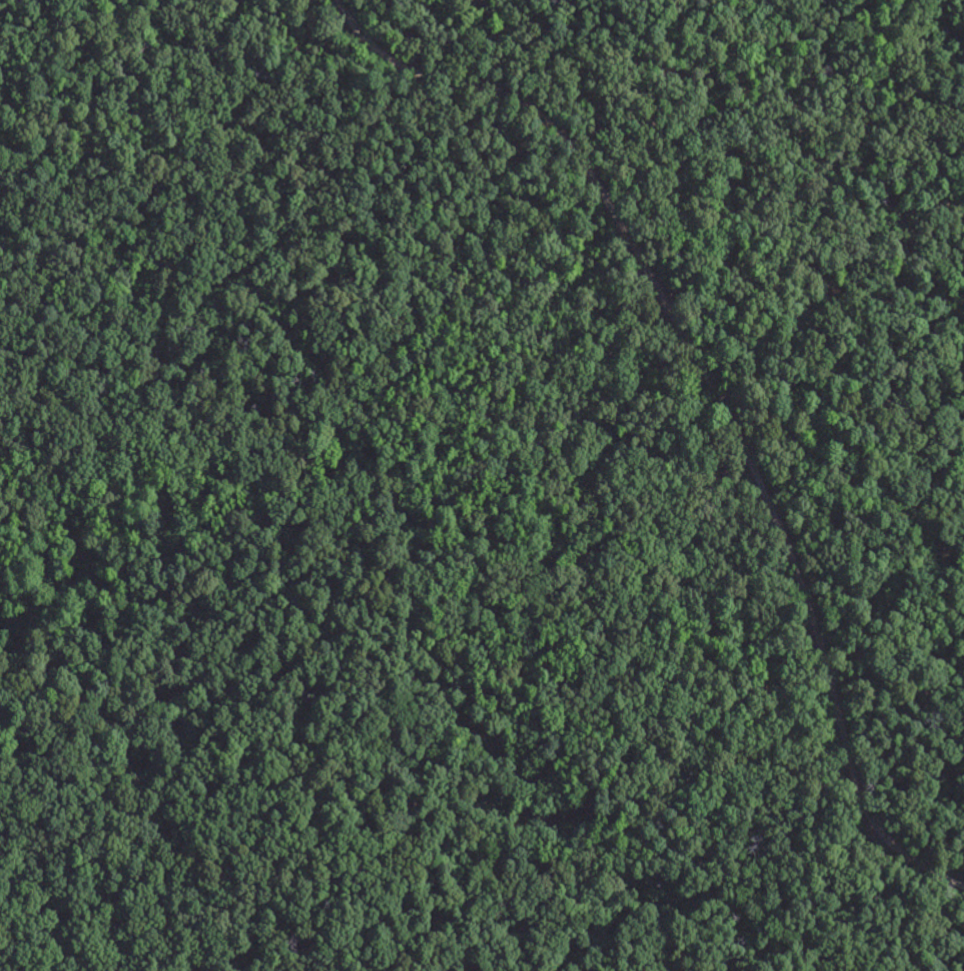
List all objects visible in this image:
road: (716, 393)

